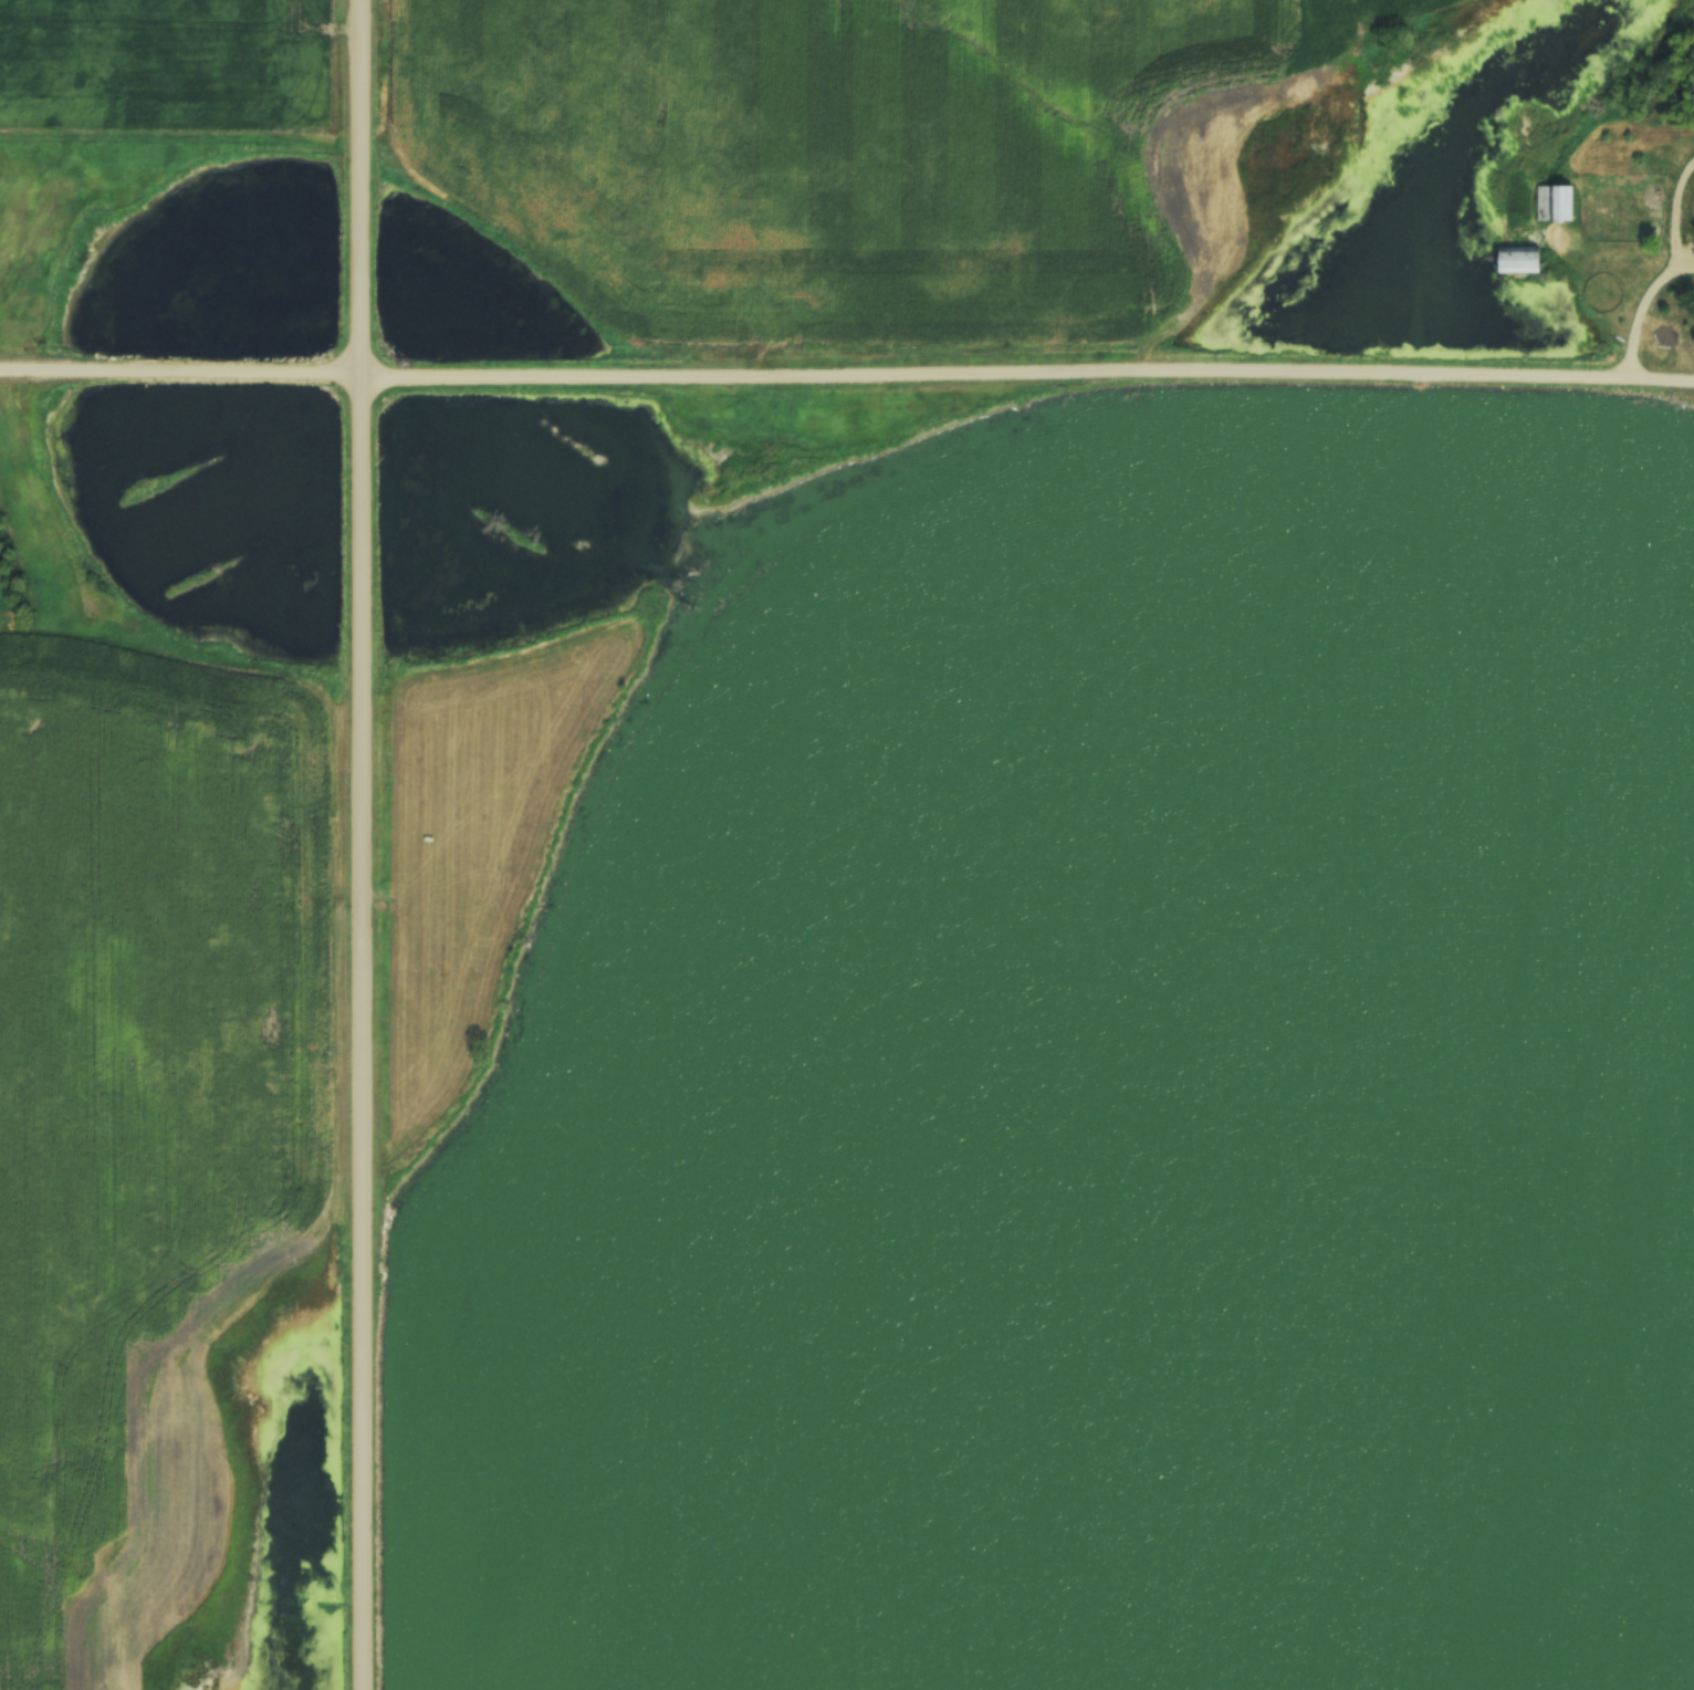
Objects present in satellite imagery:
building: (1554, 205)
building: (1519, 261)
road: (1641, 312)
road: (847, 378)
road: (365, 845)

